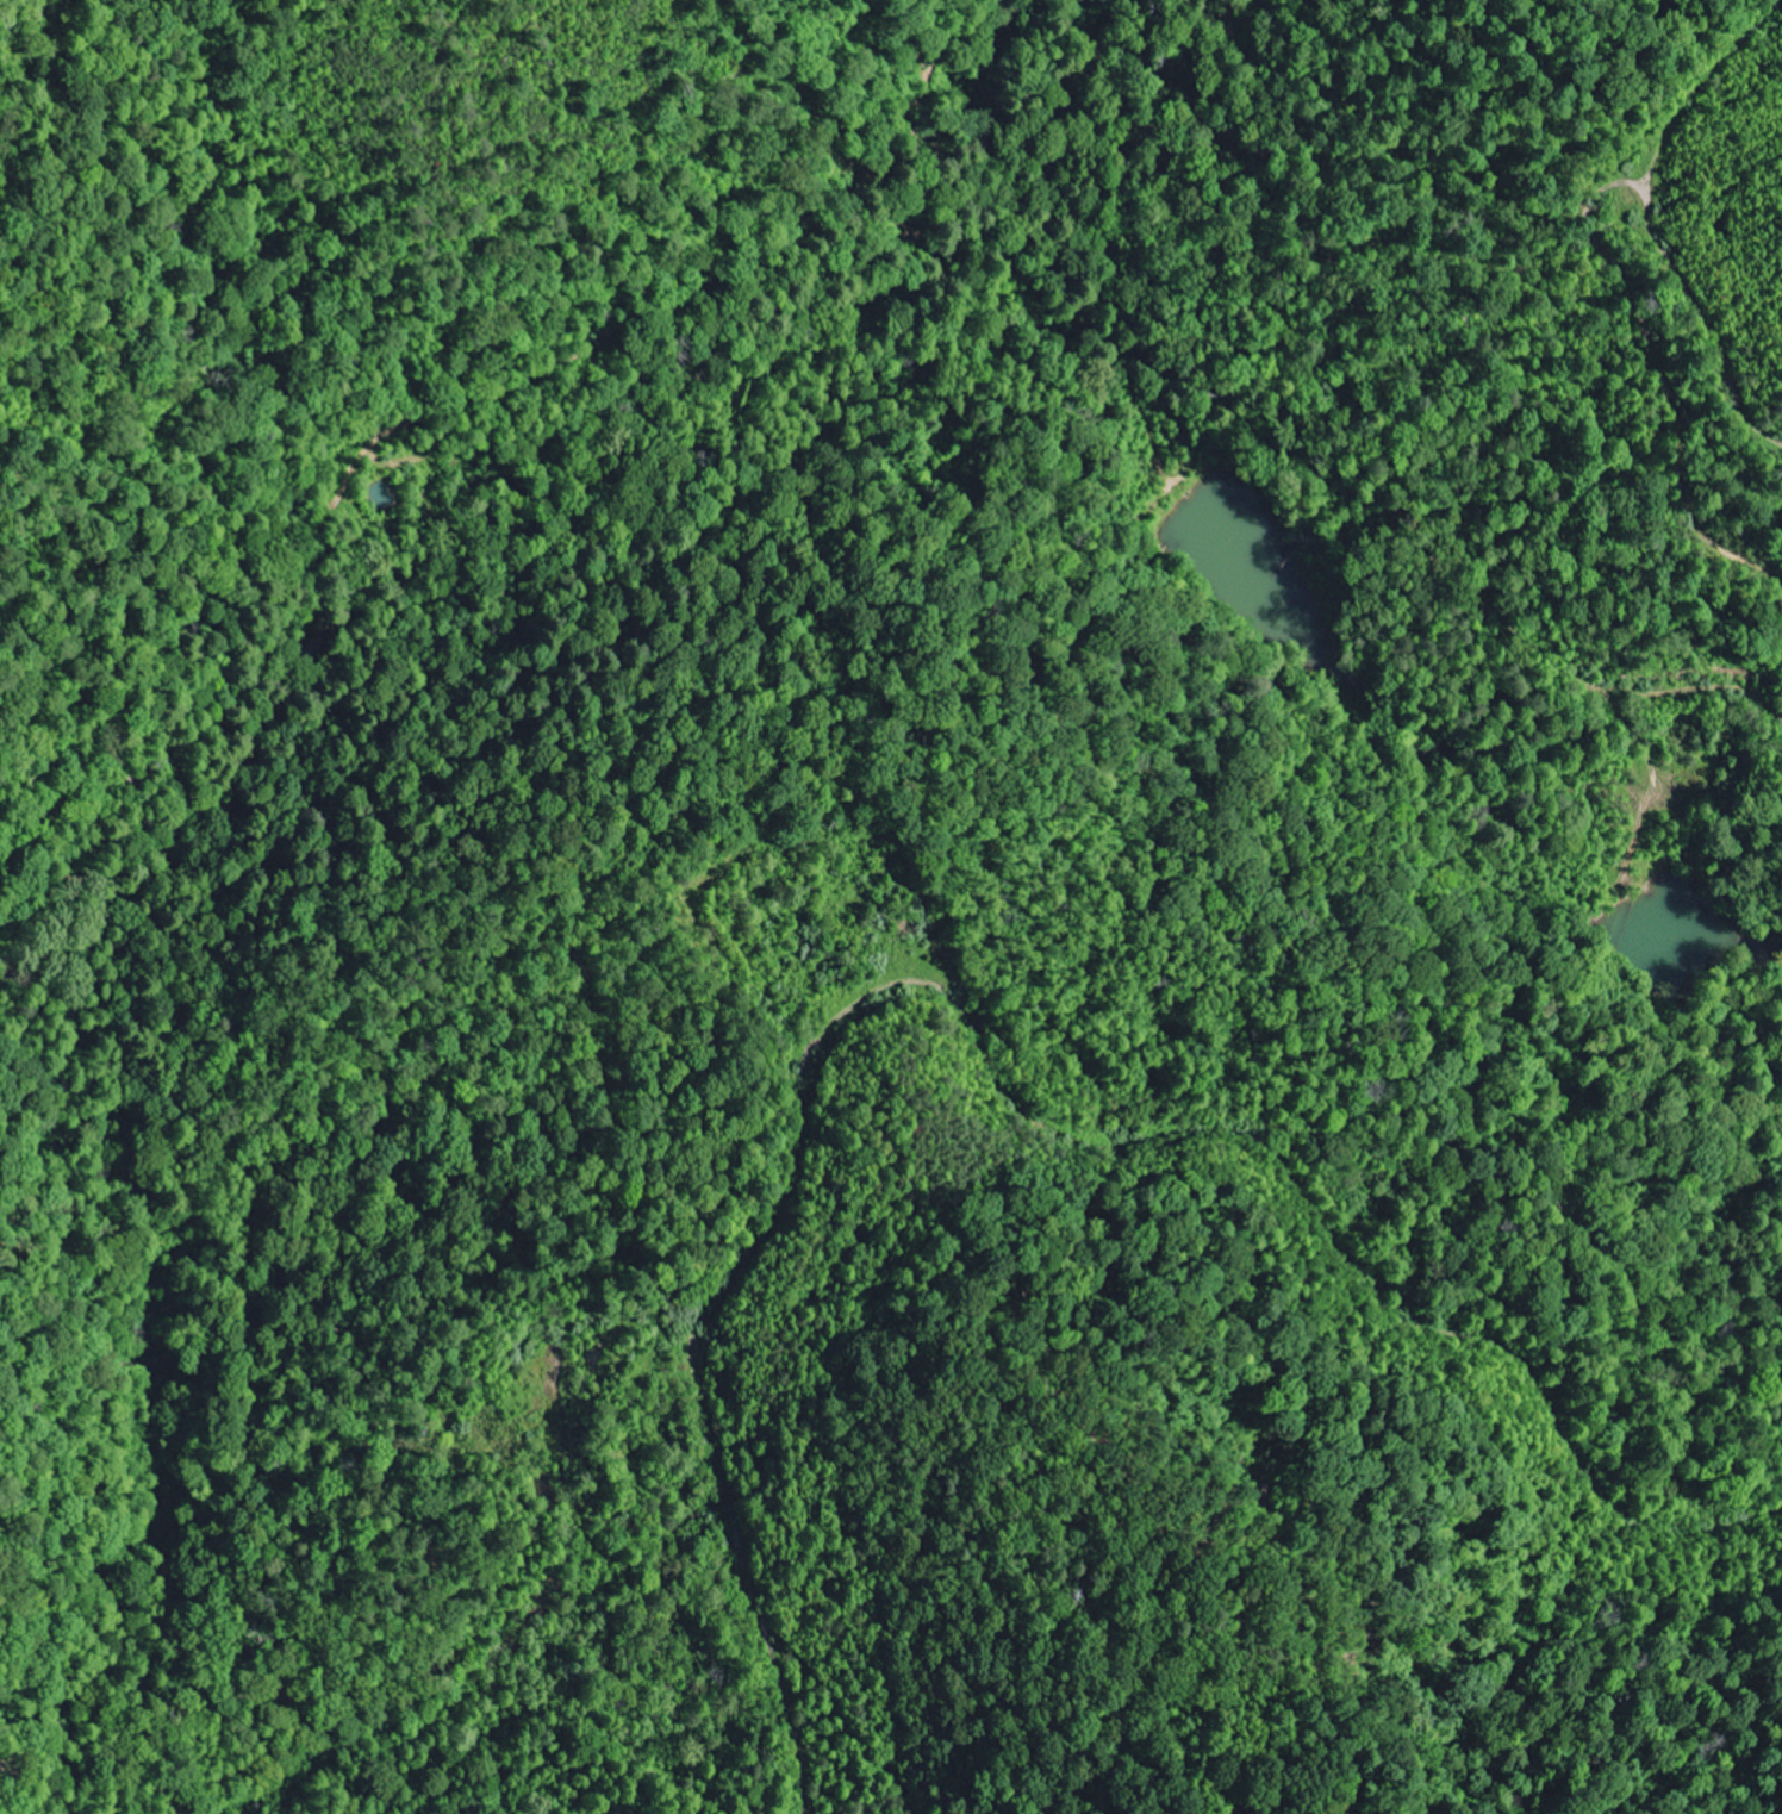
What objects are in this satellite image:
road: (559, 392)
road: (1197, 453)
road: (70, 1448)

